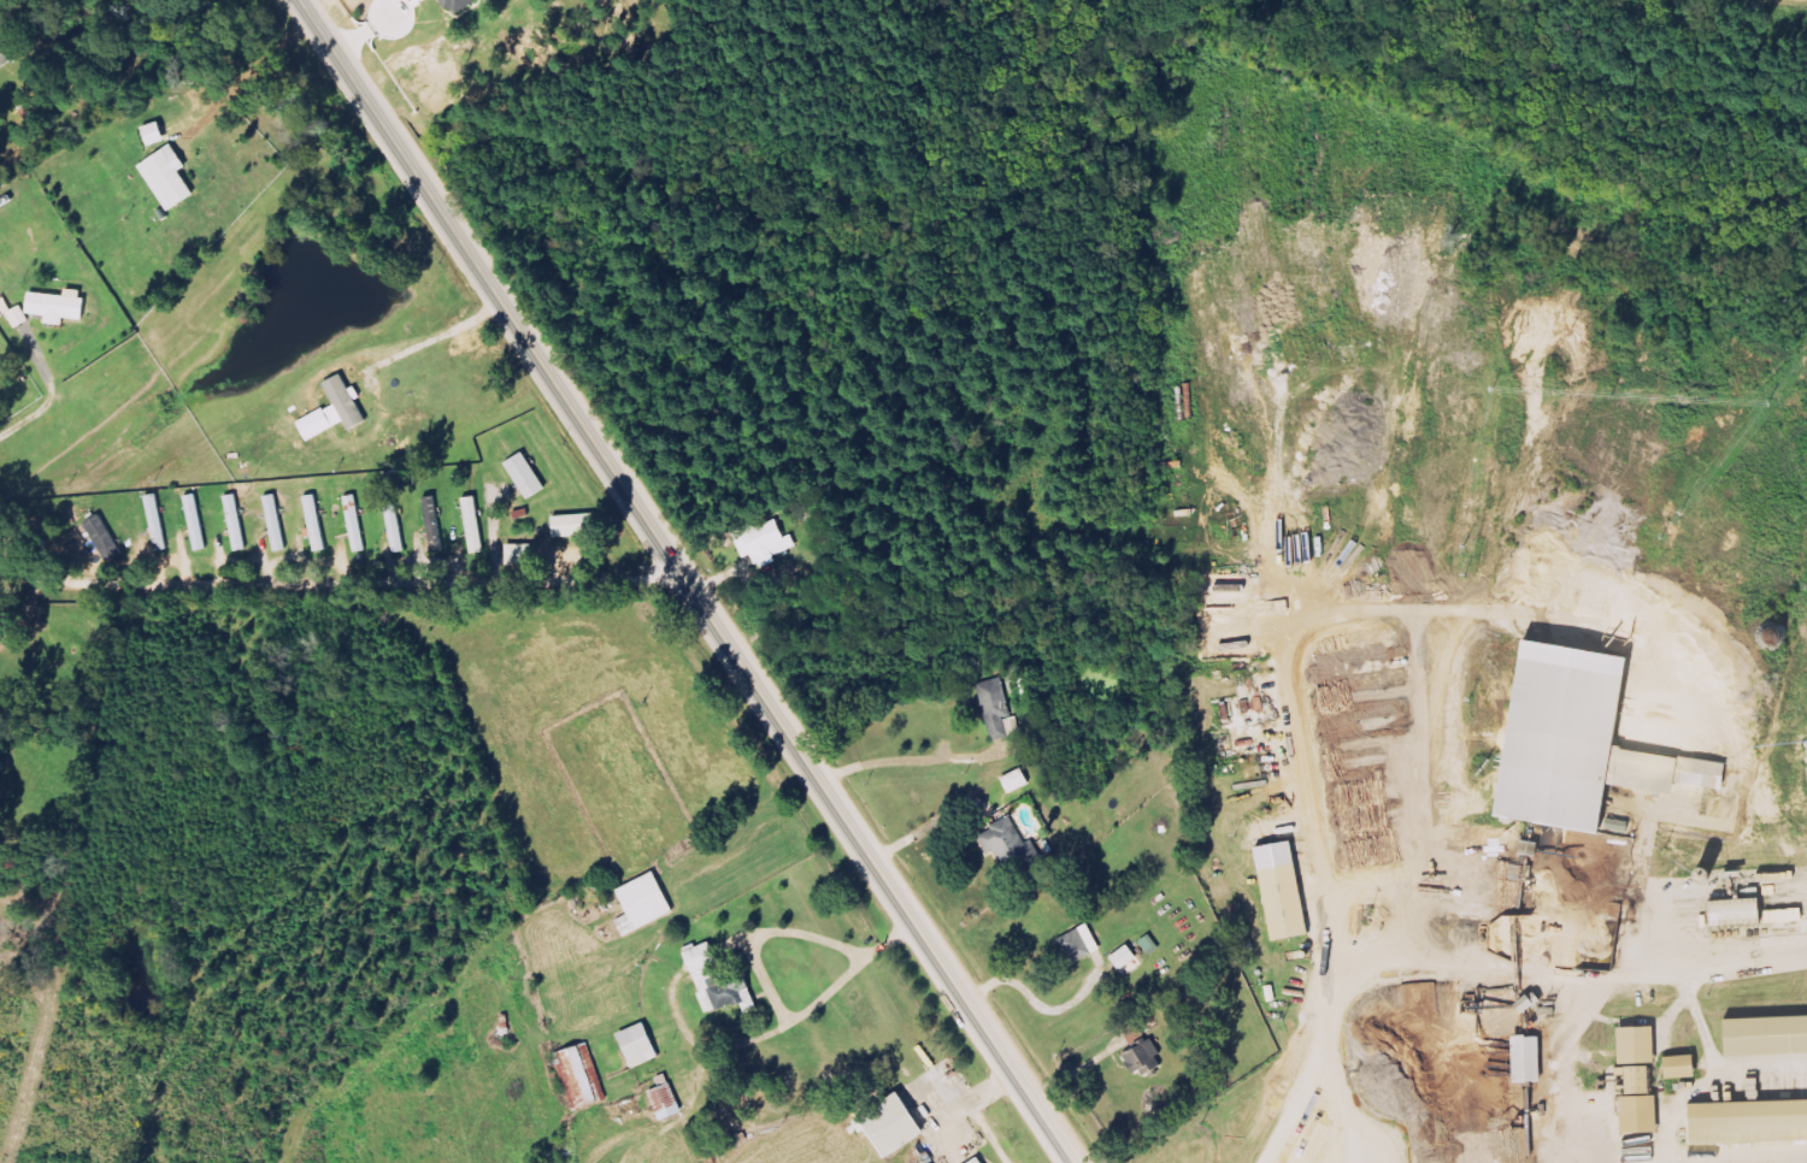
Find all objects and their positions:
building: (463, 5)
building: (5, 59)
building: (158, 134)
building: (171, 177)
building: (61, 306)
building: (14, 313)
building: (340, 409)
road: (613, 474)
building: (530, 476)
building: (160, 523)
building: (199, 523)
building: (239, 523)
building: (278, 523)
building: (318, 523)
building: (358, 524)
building: (398, 524)
building: (437, 525)
building: (477, 525)
building: (578, 525)
building: (107, 537)
building: (766, 542)
building: (523, 555)
road: (325, 581)
building: (999, 707)
building: (1017, 725)
road: (1297, 737)
building: (1587, 742)
building: (1019, 780)
building: (1013, 846)
building: (1288, 891)
building: (647, 904)
building: (1743, 913)
building: (1699, 915)
building: (1083, 944)
building: (1130, 961)
road: (1719, 967)
building: (722, 982)
building: (1770, 1037)
building: (643, 1045)
building: (1643, 1046)
road: (1002, 1055)
building: (1147, 1058)
building: (1534, 1059)
building: (1687, 1067)
building: (583, 1078)
building: (670, 1103)
building: (1750, 1122)
building: (899, 1126)
road: (1797, 1159)
building: (983, 1161)
road: (1773, 1162)

